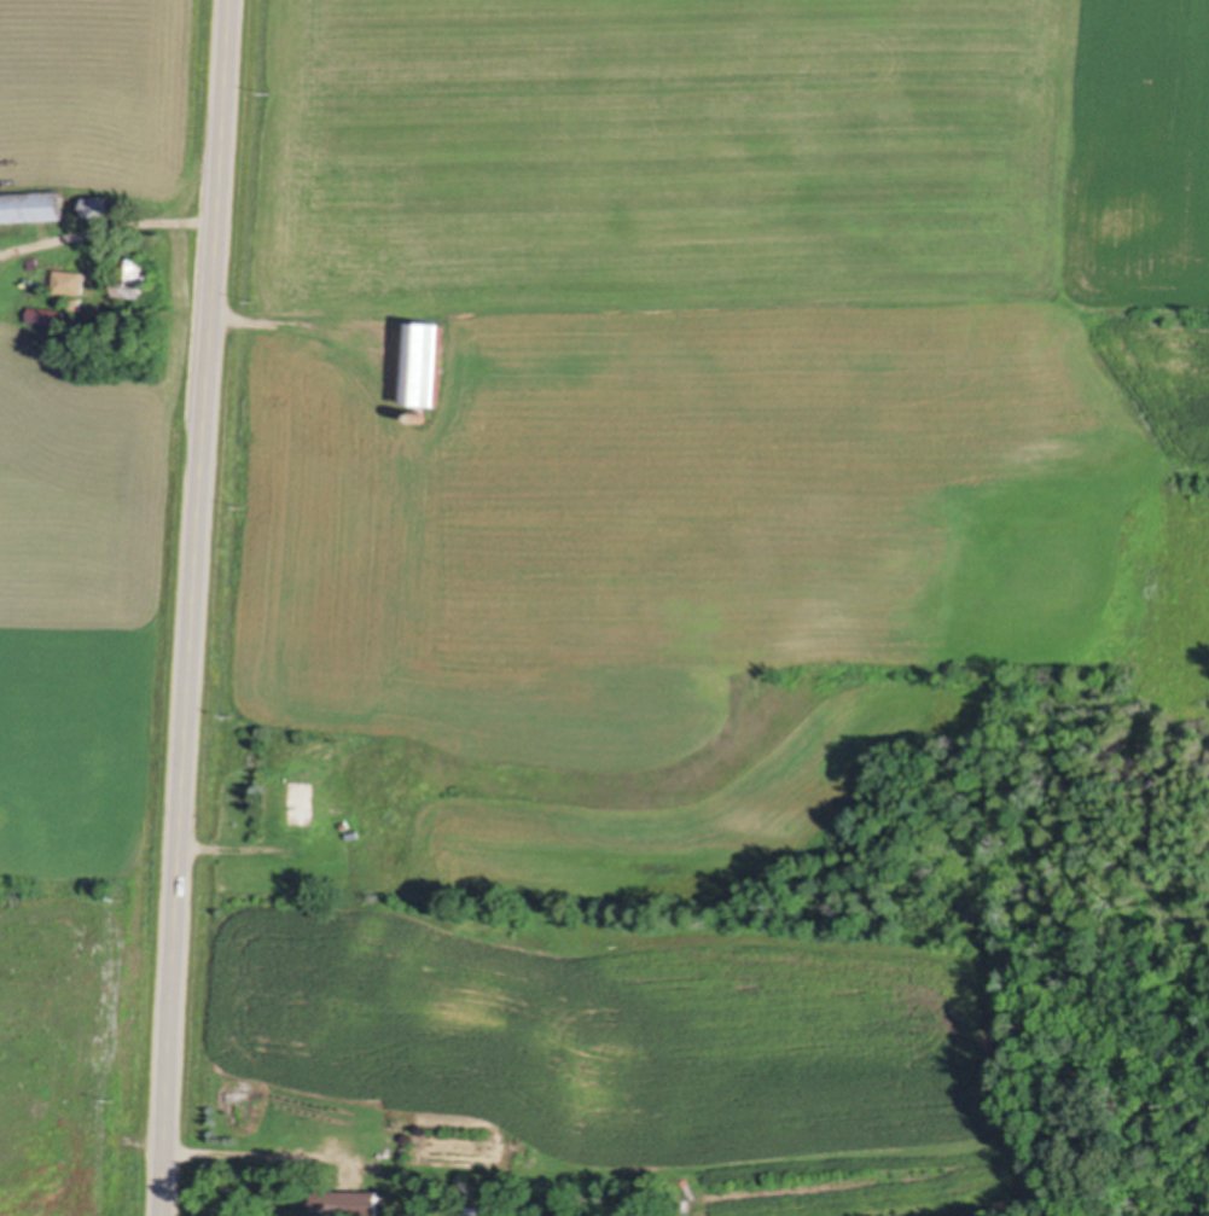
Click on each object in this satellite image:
building: (31, 204)
building: (98, 204)
building: (33, 260)
building: (134, 275)
building: (69, 279)
building: (75, 301)
building: (46, 313)
building: (423, 360)
building: (419, 413)
road: (193, 607)
building: (300, 799)
building: (351, 831)
building: (348, 1202)

